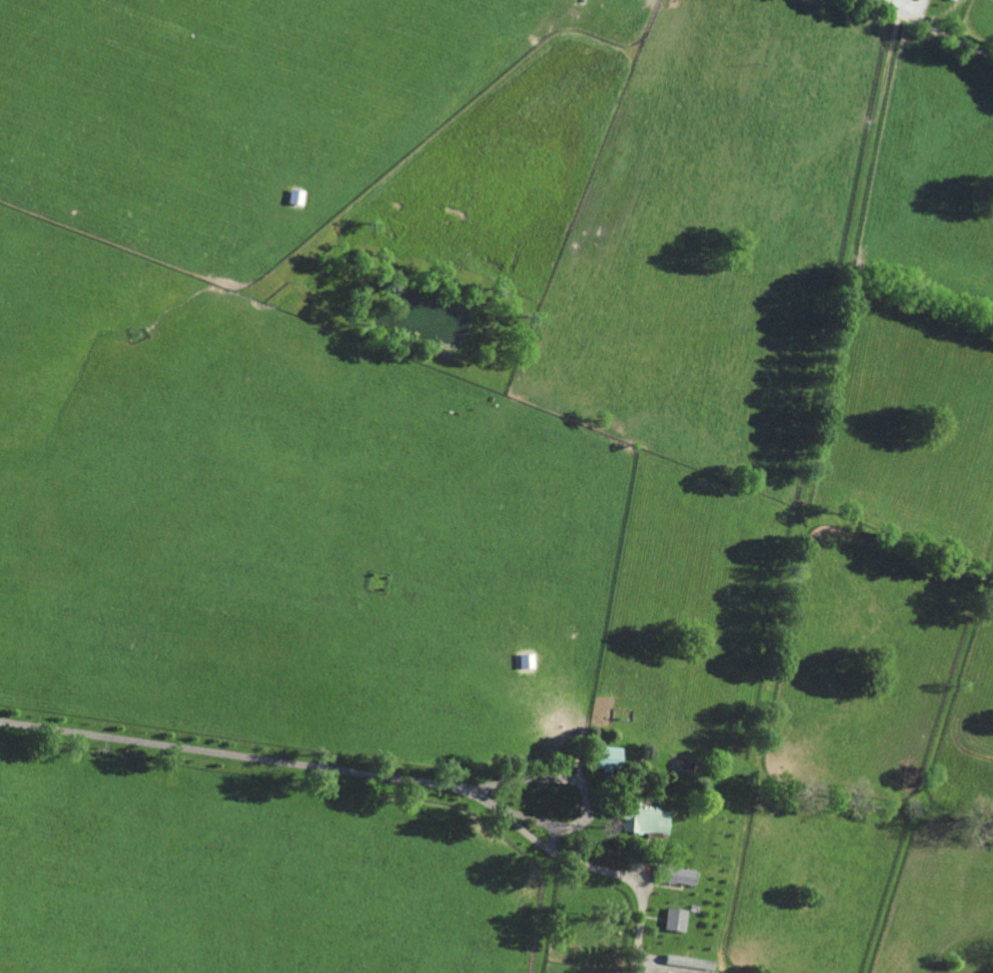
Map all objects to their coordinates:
building: (955, 0)
road: (936, 25)
road: (238, 754)
building: (608, 758)
road: (582, 816)
road: (529, 817)
building: (644, 819)
building: (675, 875)
road: (634, 882)
building: (675, 919)

